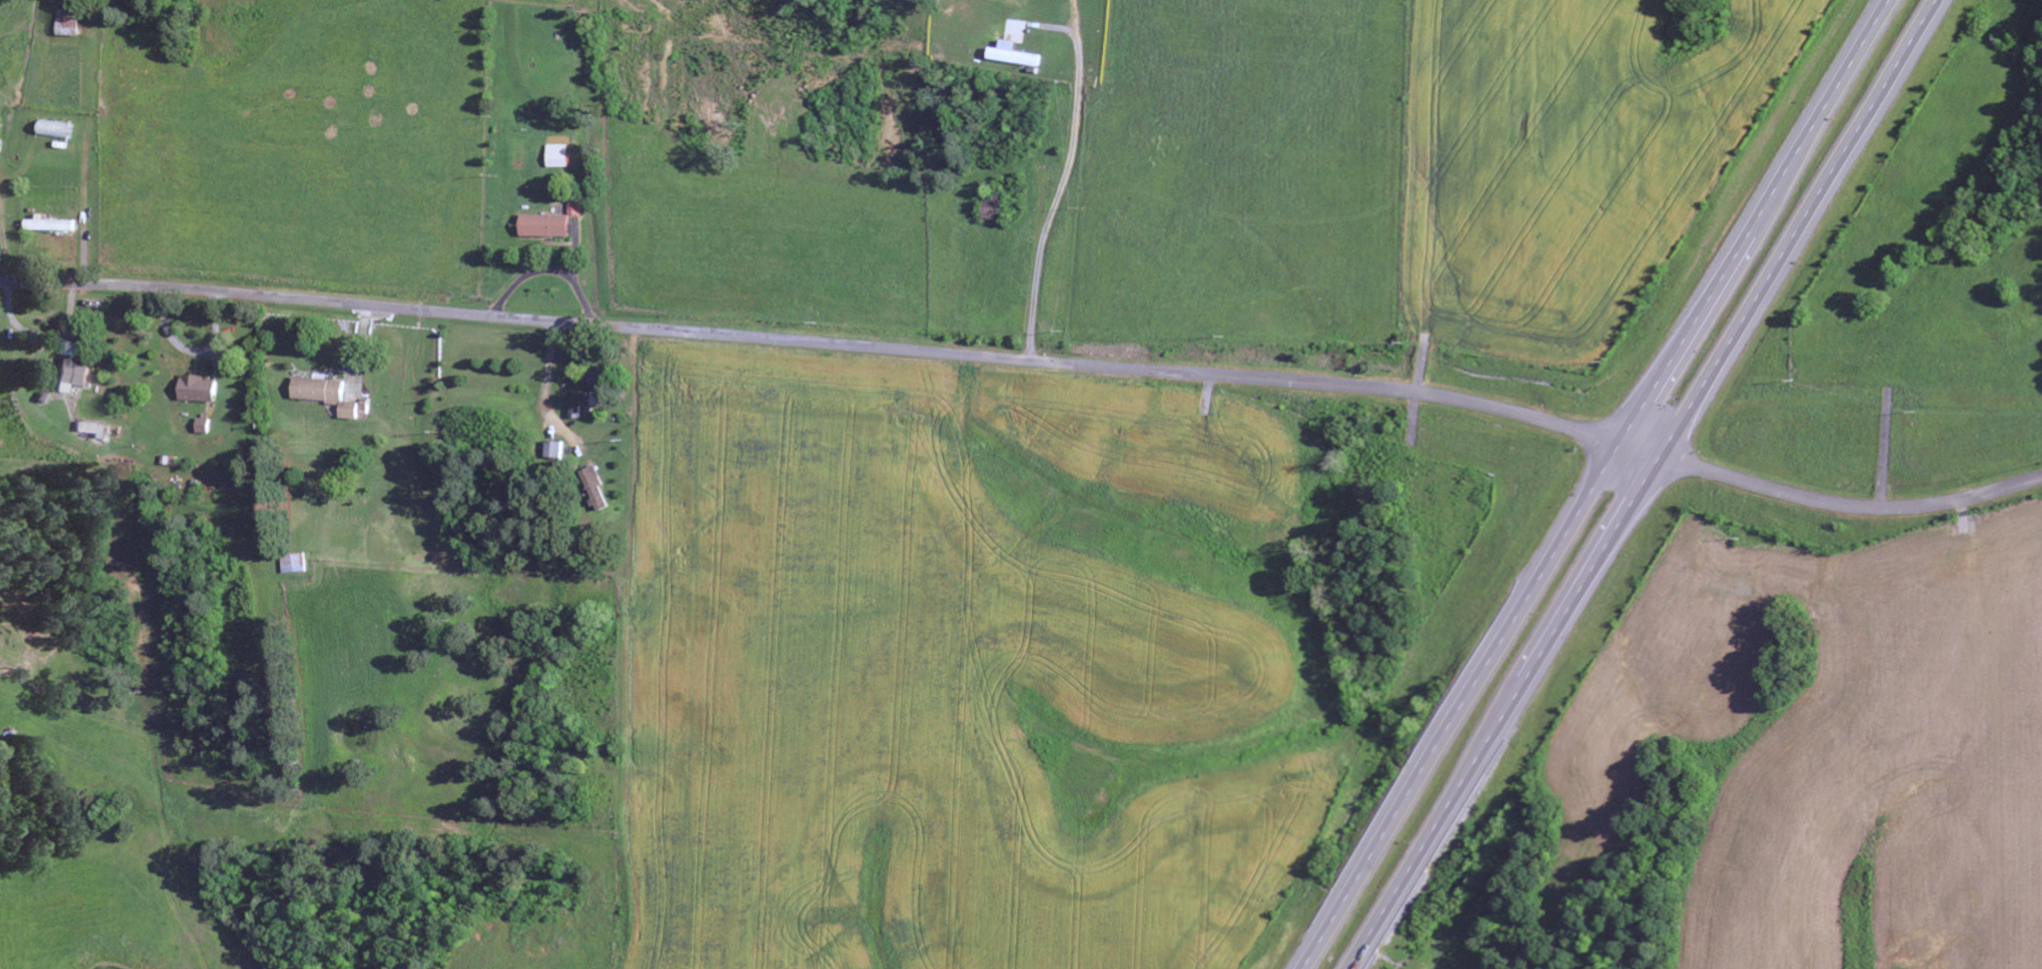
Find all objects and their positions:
building: (1015, 55)
building: (577, 208)
building: (51, 224)
building: (548, 226)
road: (1029, 359)
building: (602, 386)
building: (201, 389)
building: (332, 396)
building: (577, 412)
building: (206, 426)
building: (92, 430)
building: (556, 450)
road: (1594, 484)
road: (1641, 485)
building: (600, 489)
building: (296, 563)

